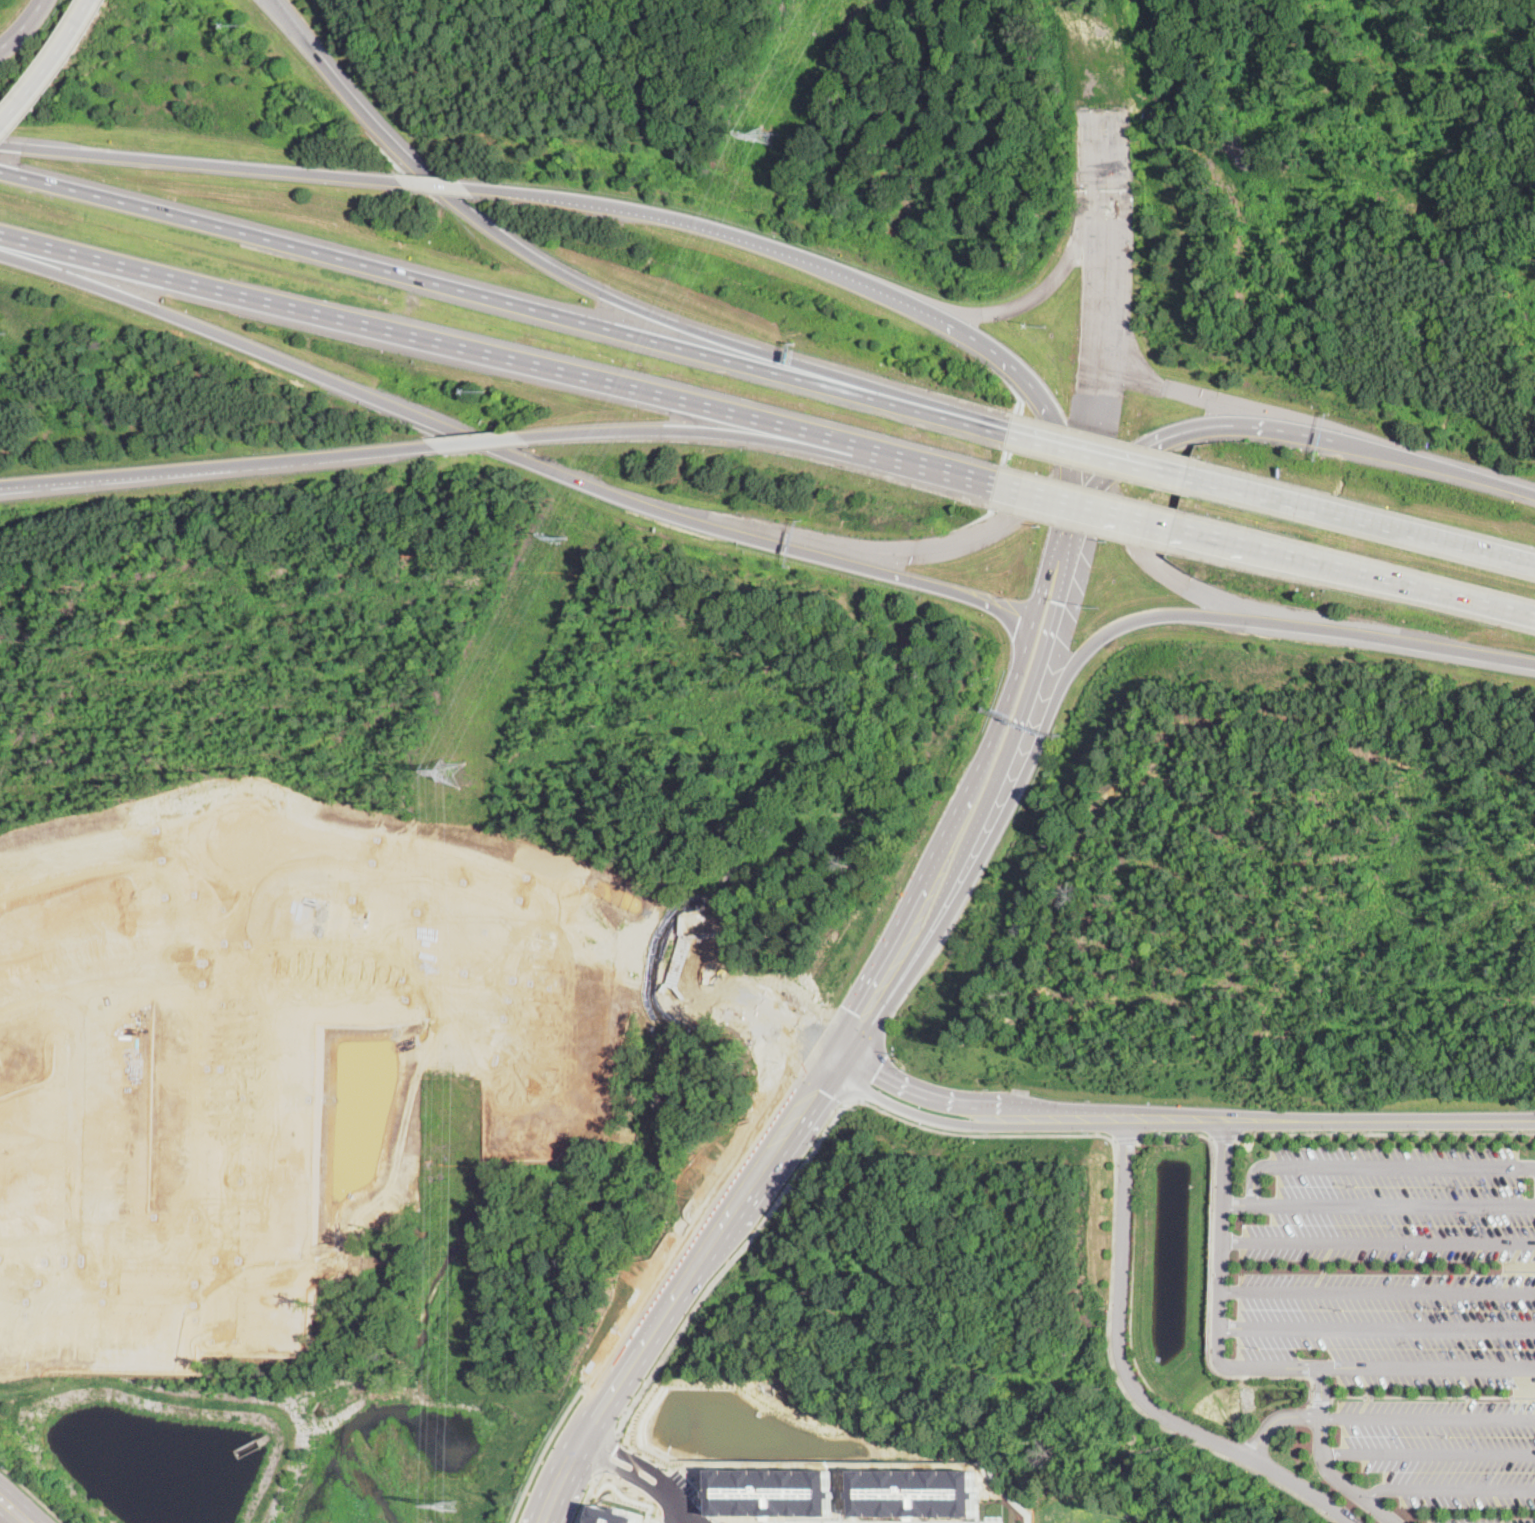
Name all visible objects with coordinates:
road: (25, 27)
road: (295, 30)
road: (51, 68)
power tower: (766, 133)
road: (196, 163)
road: (432, 185)
road: (809, 259)
road: (506, 300)
road: (631, 305)
road: (1011, 307)
road: (1108, 315)
road: (500, 359)
road: (1198, 395)
road: (722, 433)
road: (1315, 436)
road: (479, 439)
road: (1083, 446)
road: (513, 454)
road: (1099, 454)
road: (1103, 455)
traffic signals: (1134, 457)
road: (254, 461)
road: (38, 481)
road: (1074, 490)
road: (1089, 498)
road: (1094, 507)
road: (1363, 521)
power tower: (566, 536)
road: (879, 548)
road: (1361, 575)
road: (1047, 576)
road: (1213, 596)
traffic signals: (1058, 602)
road: (1123, 625)
road: (999, 725)
road: (1008, 751)
power tower: (451, 772)
road: (206, 813)
road: (97, 852)
road: (572, 860)
road: (573, 903)
road: (896, 933)
road: (263, 968)
road: (536, 980)
traffic signals: (851, 1011)
road: (873, 1019)
road: (808, 1033)
traffic signals: (804, 1034)
traffic signals: (876, 1071)
road: (821, 1081)
traffic signals: (817, 1087)
road: (229, 1103)
road: (964, 1103)
road: (1318, 1118)
road: (958, 1124)
road: (1383, 1131)
road: (976, 1133)
road: (1220, 1136)
road: (1119, 1137)
road: (74, 1140)
road: (771, 1148)
road: (1376, 1166)
road: (1377, 1205)
road: (688, 1223)
road: (1377, 1241)
parking lot: (1395, 1265)
road: (721, 1270)
road: (1211, 1277)
road: (111, 1290)
road: (1376, 1291)
road: (1376, 1327)
road: (644, 1338)
road: (1253, 1369)
road: (1131, 1379)
road: (1128, 1389)
road: (1418, 1395)
road: (605, 1398)
road: (1320, 1401)
road: (1427, 1417)
road: (1275, 1421)
parking lot: (1444, 1449)
road: (544, 1451)
road: (608, 1453)
road: (1428, 1455)
road: (1323, 1463)
road: (651, 1471)
road: (557, 1479)
road: (591, 1487)
road: (1448, 1490)
building: (768, 1492)
building: (920, 1492)
road: (33, 1493)
power tower: (450, 1507)
road: (14, 1509)
road: (680, 1515)
building: (612, 1516)
parking lot: (1477, 1519)

